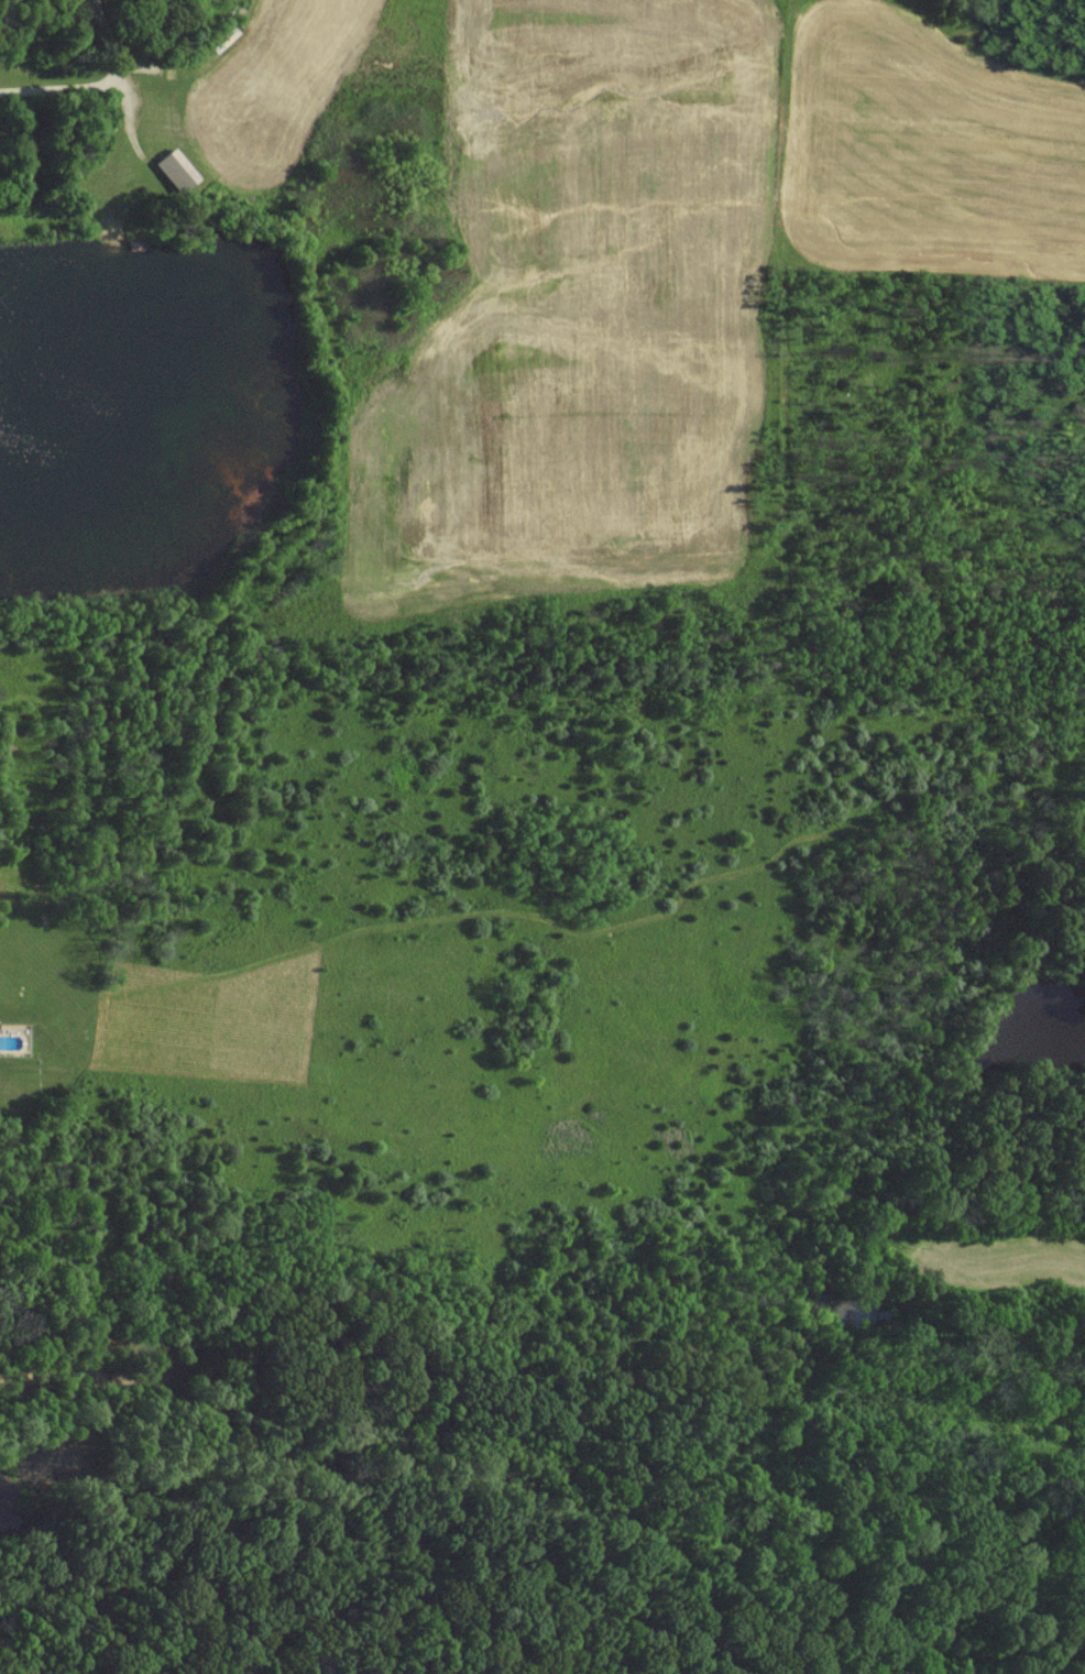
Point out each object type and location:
road: (110, 43)
road: (87, 86)
building: (172, 168)

